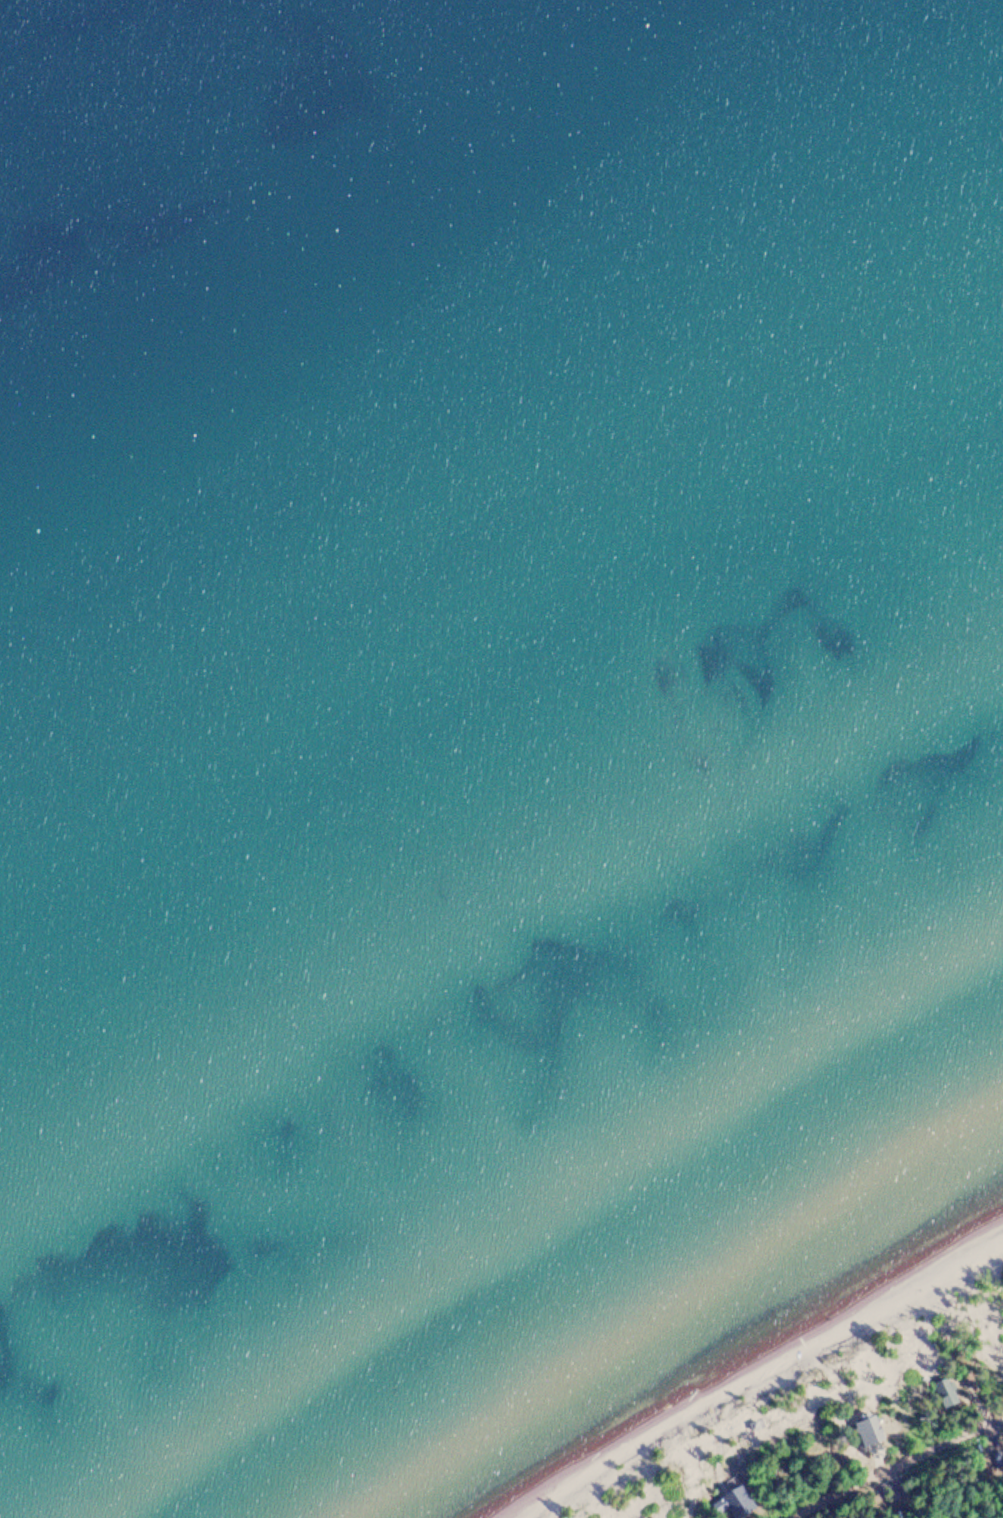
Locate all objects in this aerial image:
building: (868, 1431)
road: (887, 1459)

